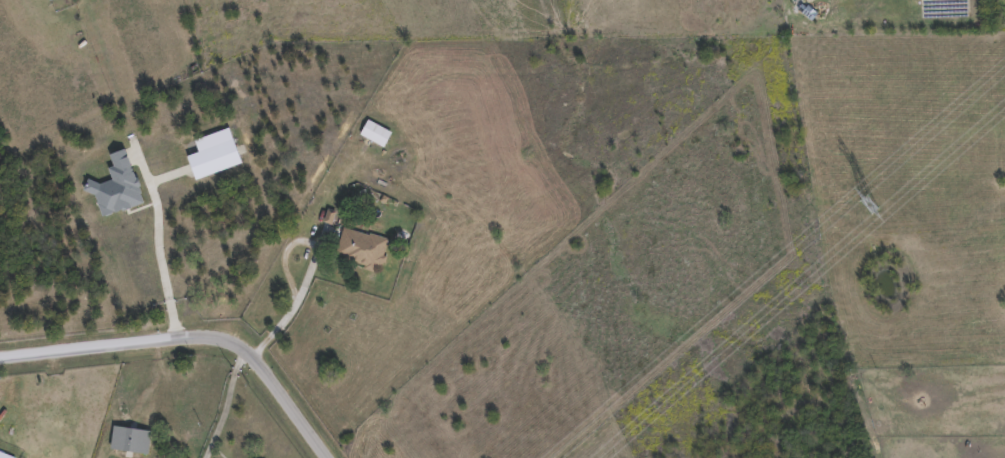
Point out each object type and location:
building: (50, 0)
building: (375, 132)
power tower: (868, 208)
building: (360, 247)
road: (156, 249)
road: (189, 339)
road: (225, 406)
building: (129, 438)
building: (5, 455)

